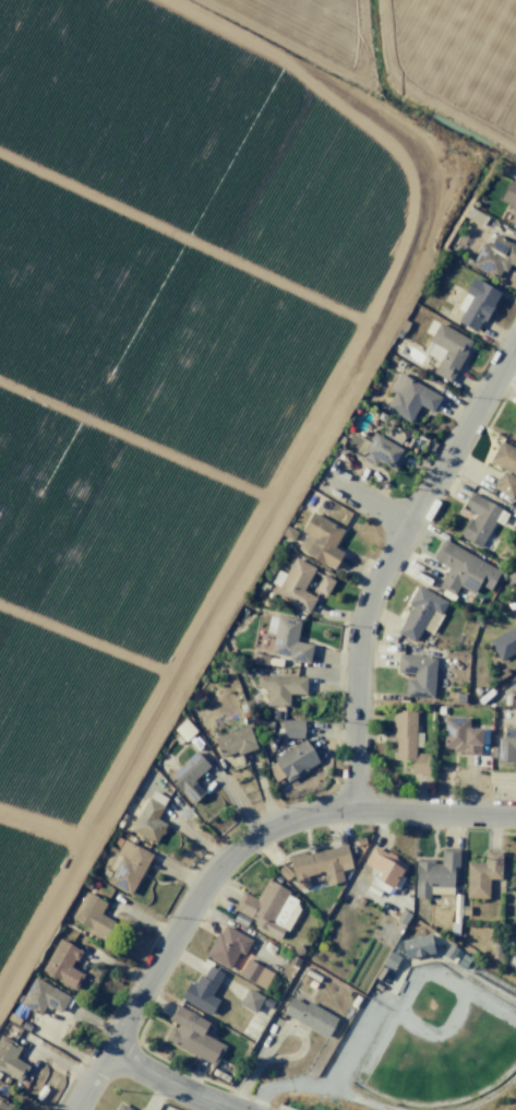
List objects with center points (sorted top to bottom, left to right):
building: (509, 193)
building: (473, 215)
building: (514, 219)
building: (494, 256)
building: (476, 303)
crop: (184, 316)
building: (446, 351)
building: (410, 397)
building: (379, 448)
building: (505, 468)
road: (364, 498)
building: (478, 519)
building: (289, 532)
building: (321, 540)
road: (388, 558)
building: (464, 569)
building: (511, 575)
building: (297, 584)
building: (324, 586)
building: (421, 614)
building: (289, 640)
building: (504, 643)
building: (259, 658)
building: (418, 672)
building: (281, 687)
building: (292, 729)
building: (184, 730)
building: (460, 734)
building: (236, 741)
building: (408, 741)
building: (506, 745)
building: (292, 760)
building: (189, 777)
building: (149, 817)
road: (228, 854)
building: (320, 865)
building: (127, 866)
building: (383, 869)
building: (284, 873)
building: (436, 874)
building: (482, 874)
building: (269, 908)
building: (92, 914)
building: (227, 946)
building: (418, 946)
building: (63, 965)
building: (255, 972)
building: (203, 991)
building: (43, 996)
building: (251, 1000)
building: (16, 1012)
building: (310, 1016)
park: (427, 1031)
building: (193, 1035)
park: (439, 1041)
building: (11, 1060)
road: (170, 1082)
building: (4, 1103)
building: (123, 1108)
building: (139, 1109)

